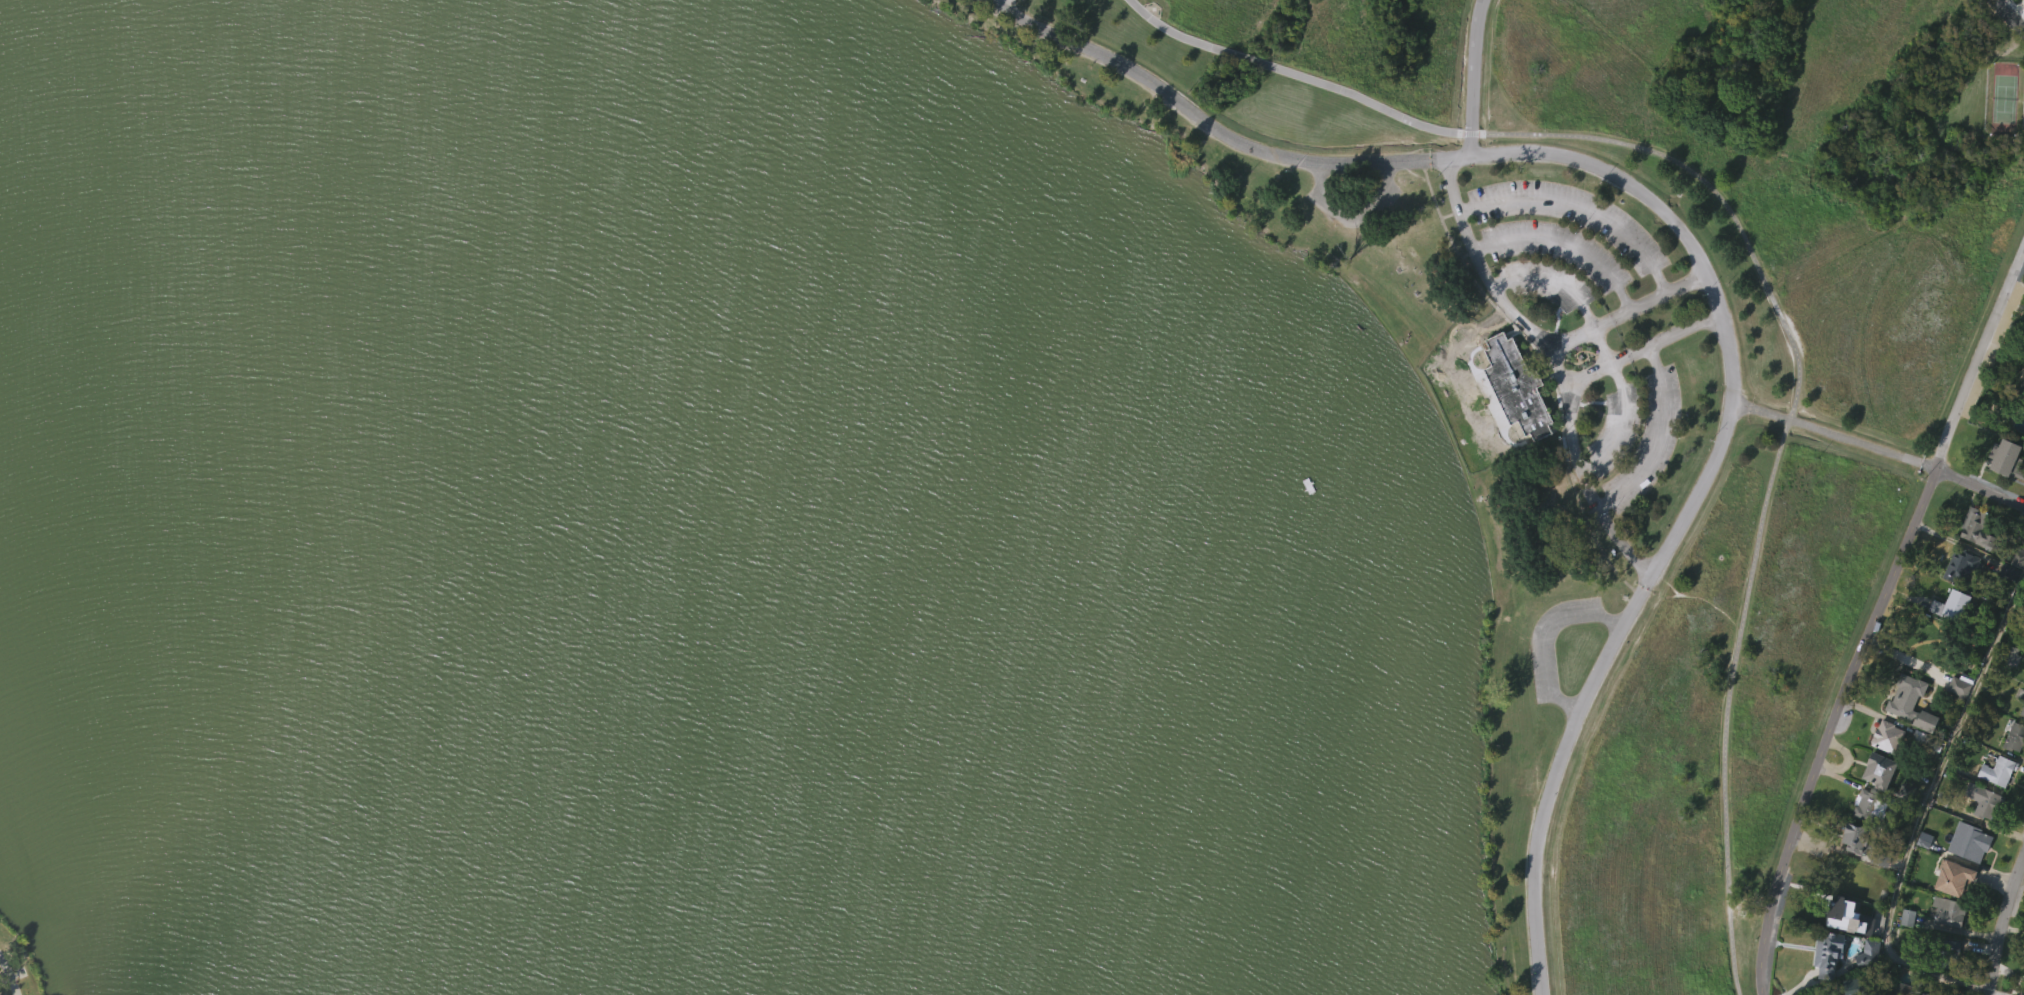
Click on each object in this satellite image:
road: (2009, 15)
road: (1474, 78)
road: (1205, 125)
road: (1579, 206)
road: (1563, 241)
parking lot: (1561, 242)
road: (1707, 279)
road: (1763, 280)
road: (1626, 310)
road: (1602, 349)
road: (1640, 349)
road: (1553, 363)
building: (1517, 386)
building: (2022, 387)
building: (1515, 425)
parking lot: (1633, 438)
road: (1655, 440)
road: (1879, 450)
building: (2002, 458)
park: (950, 482)
building: (2002, 492)
building: (1975, 528)
building: (2018, 554)
building: (1974, 564)
building: (1960, 566)
building: (2023, 601)
building: (1948, 606)
road: (1875, 619)
road: (1543, 639)
building: (1949, 641)
building: (1959, 686)
building: (1906, 696)
building: (2022, 710)
building: (1958, 720)
building: (1903, 731)
building: (1886, 736)
building: (2014, 736)
building: (1922, 742)
building: (1923, 756)
building: (1999, 771)
building: (2013, 772)
road: (1555, 773)
building: (1881, 773)
building: (1987, 802)
building: (1867, 808)
road: (1923, 811)
building: (1983, 837)
building: (1858, 838)
building: (1967, 841)
building: (1852, 873)
building: (1922, 875)
building: (1956, 877)
building: (1839, 910)
building: (1946, 912)
road: (2000, 924)
building: (1828, 950)
building: (1868, 952)
building: (1943, 952)
parking lot: (0, 962)
road: (9, 977)
building: (1827, 982)
building: (1950, 983)
building: (1861, 985)
building: (1899, 989)
road: (1995, 993)
building: (1925, 994)

